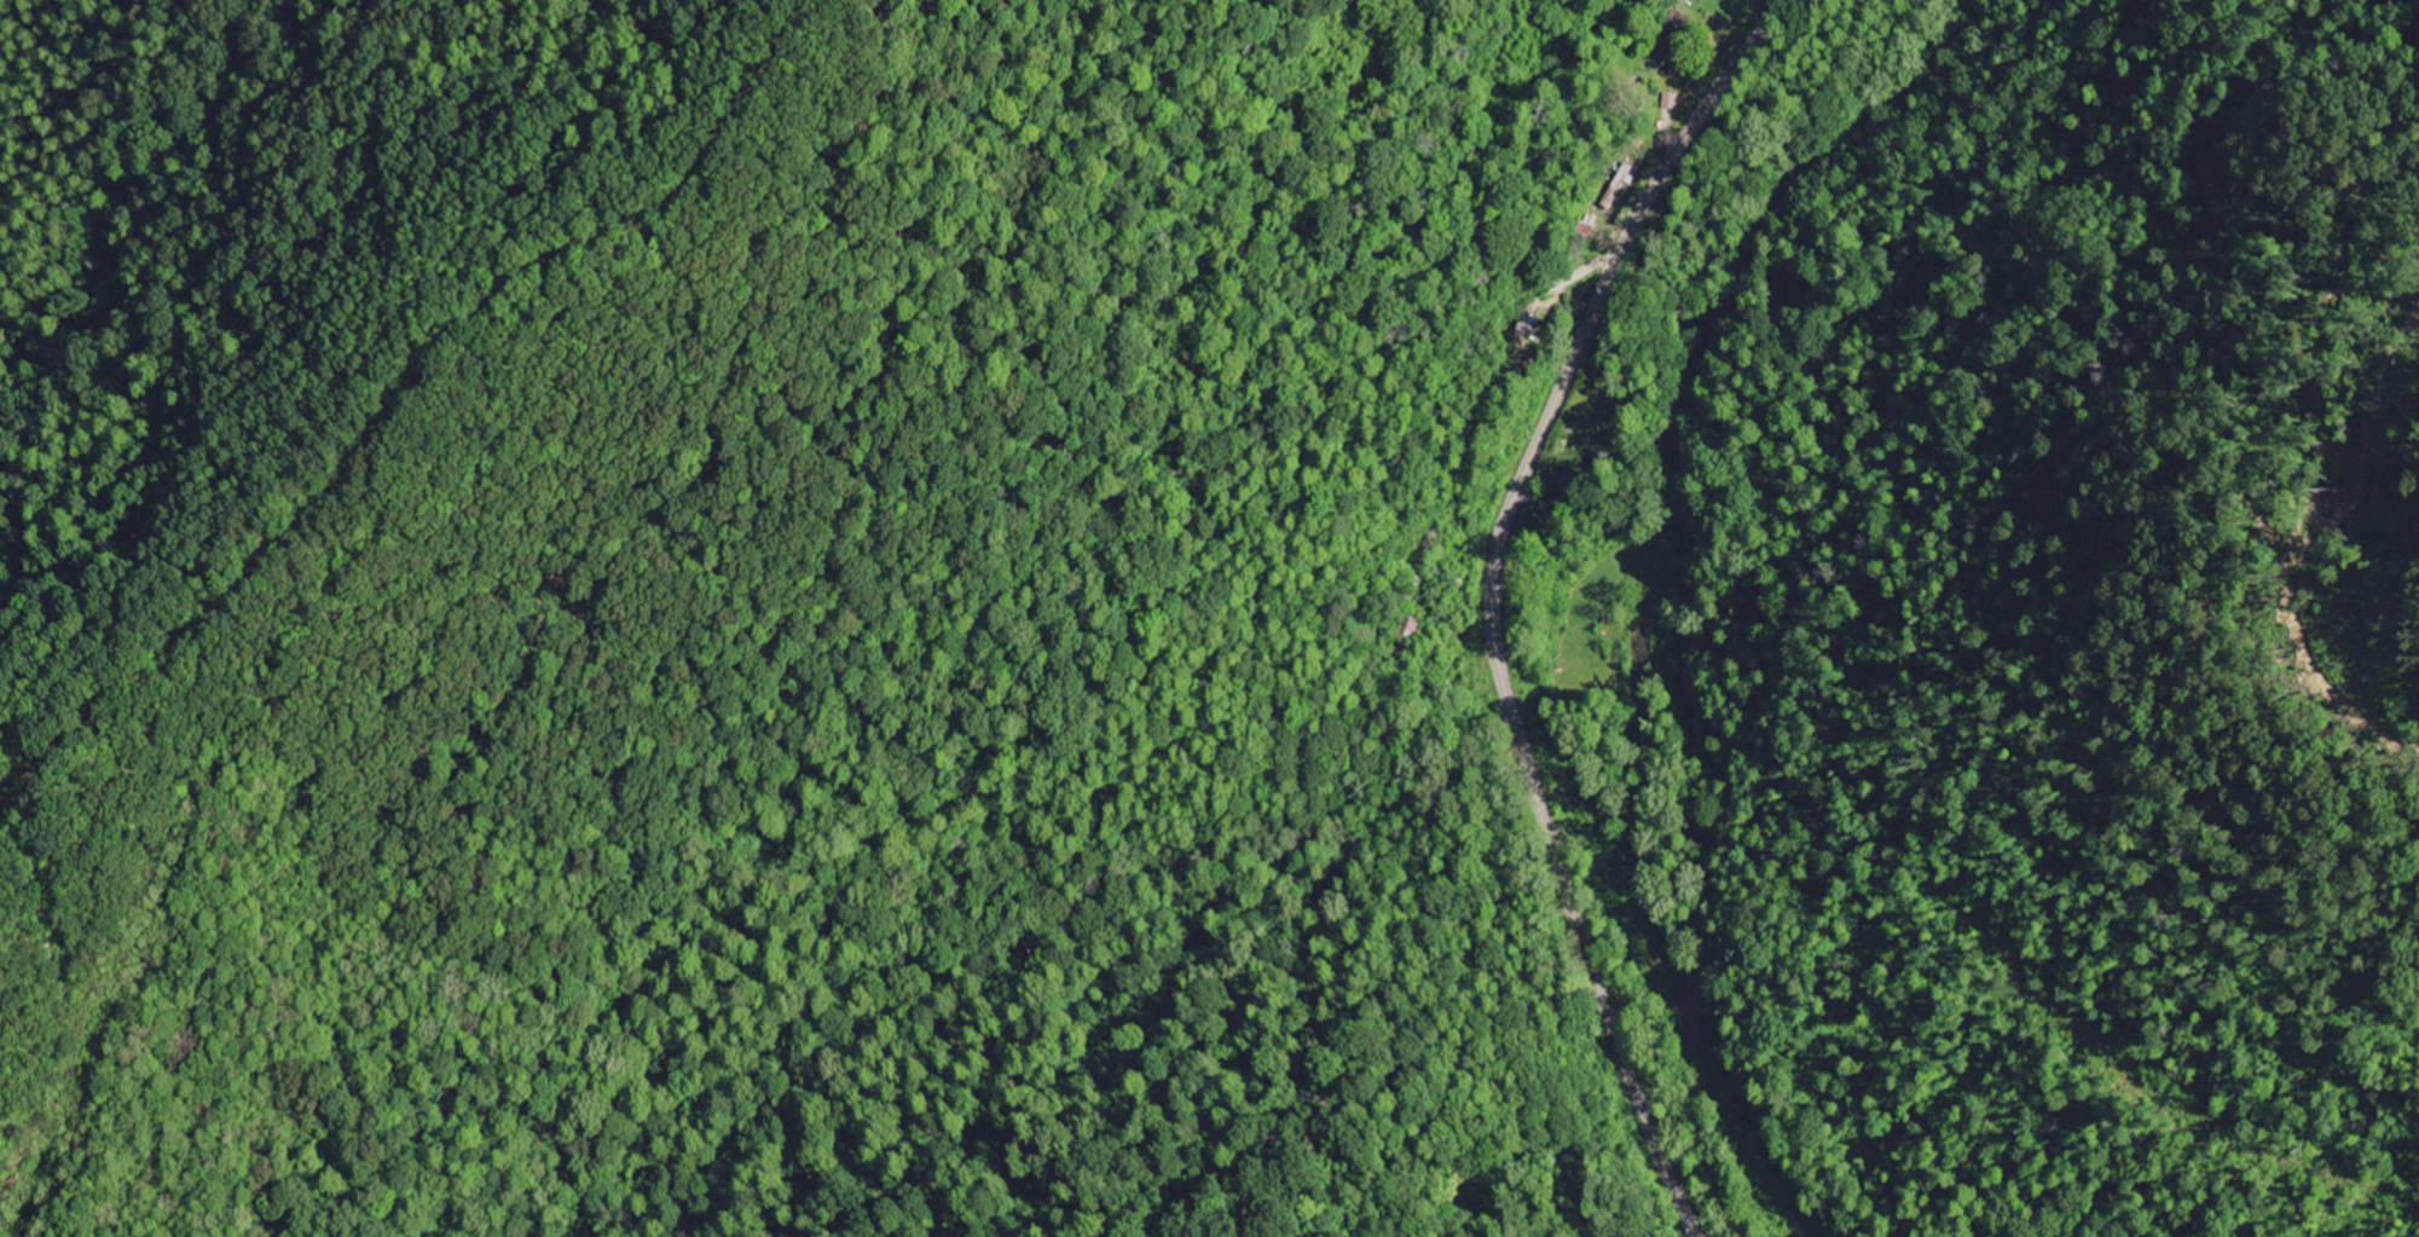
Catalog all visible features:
building: (1673, 37)
building: (1528, 320)
building: (1566, 484)
road: (1576, 658)

